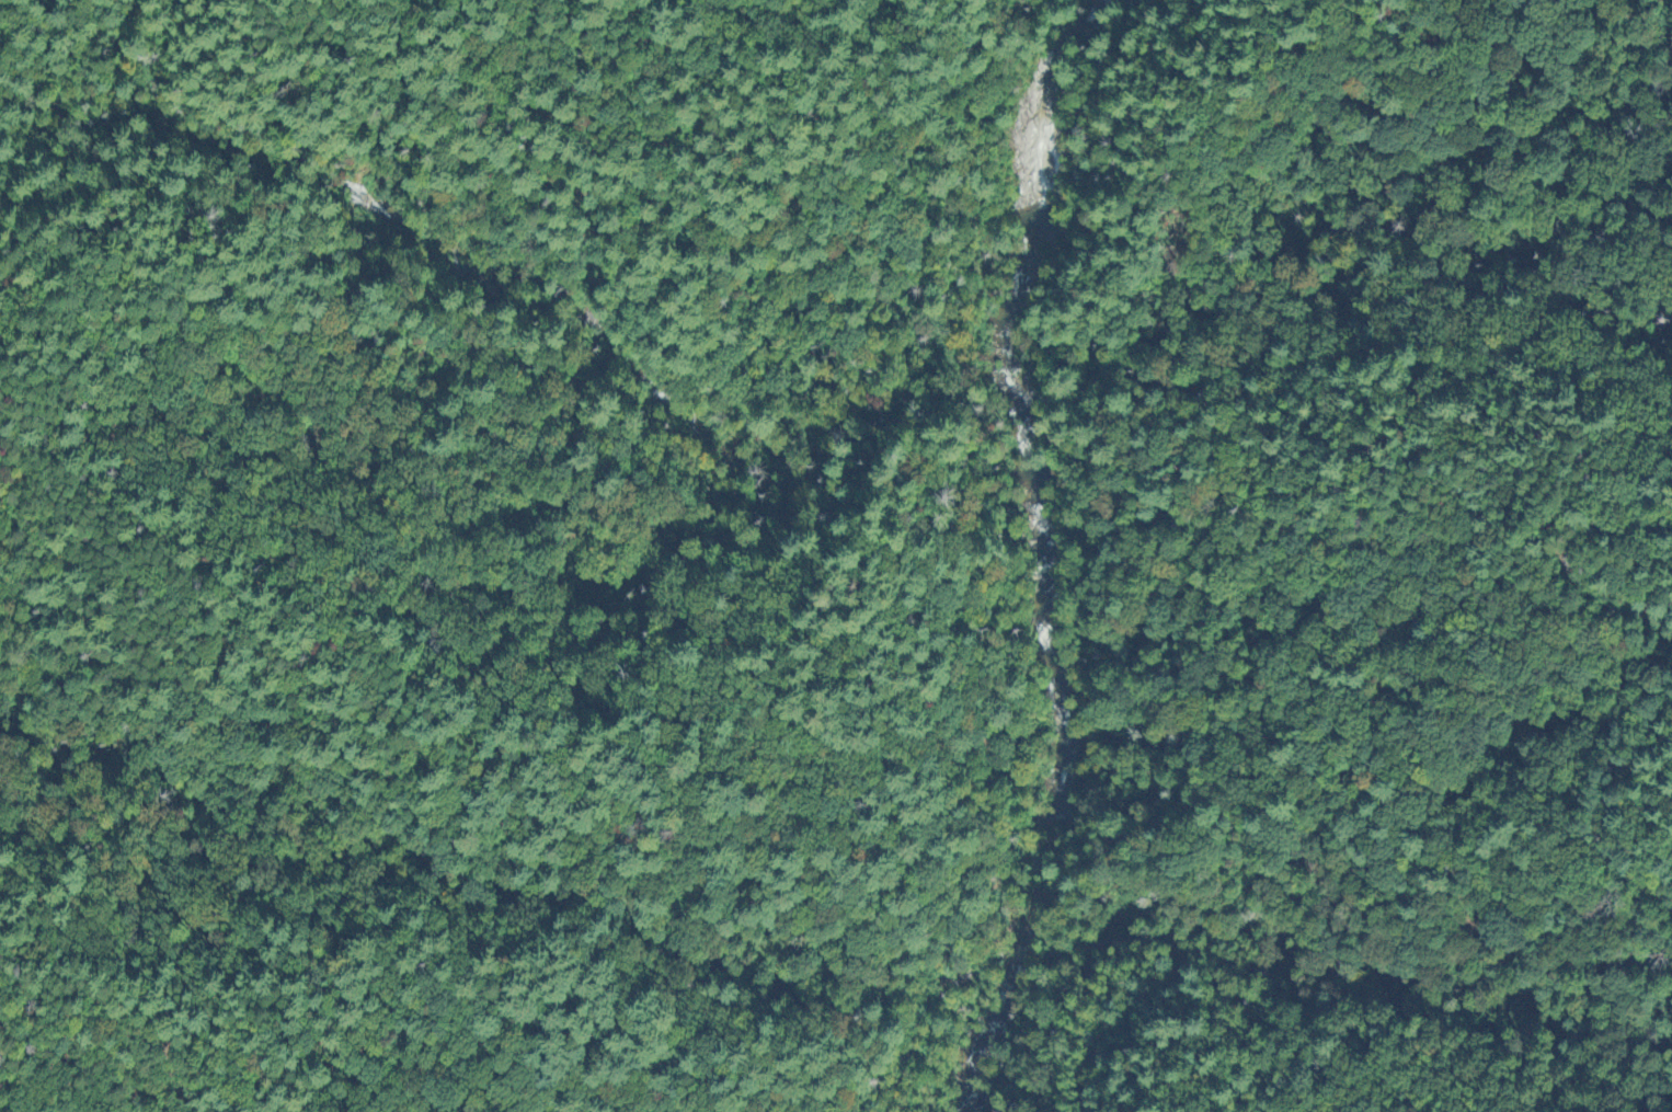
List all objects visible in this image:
road: (309, 5)
river: (1043, 557)
road: (1568, 564)
road: (1603, 814)
road: (1021, 954)
road: (1178, 971)
road: (926, 1016)

